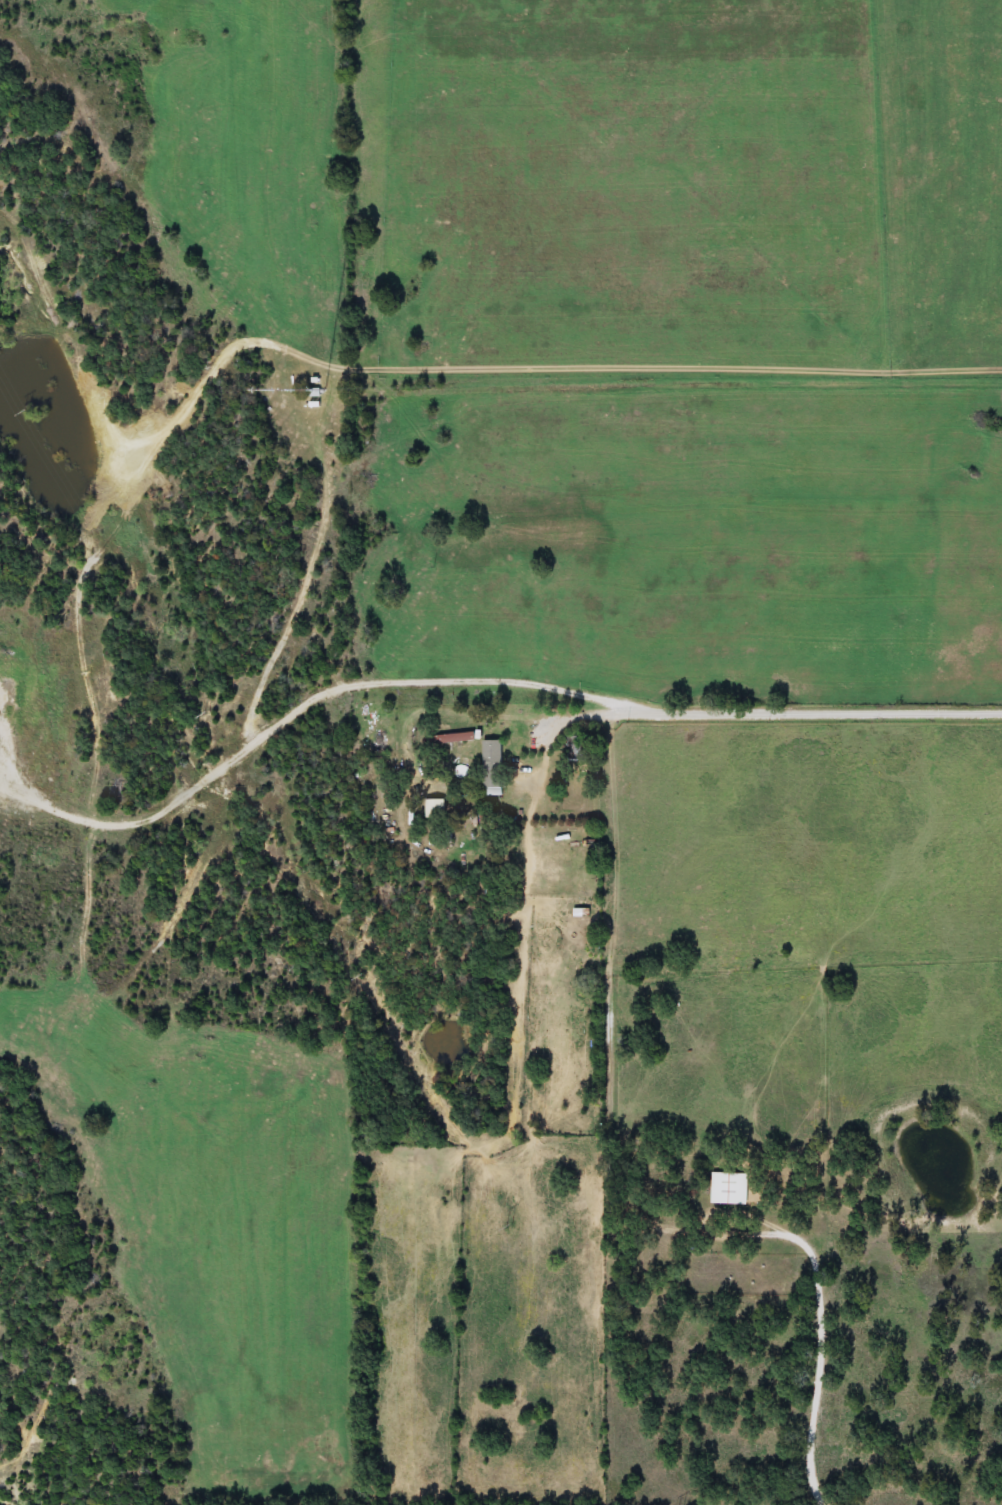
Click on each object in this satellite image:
power tower: (37, 415)
road: (768, 709)
power tower: (208, 711)
building: (491, 755)
building: (514, 775)
building: (437, 809)
power tower: (377, 979)
building: (727, 1188)
power tower: (515, 1228)

